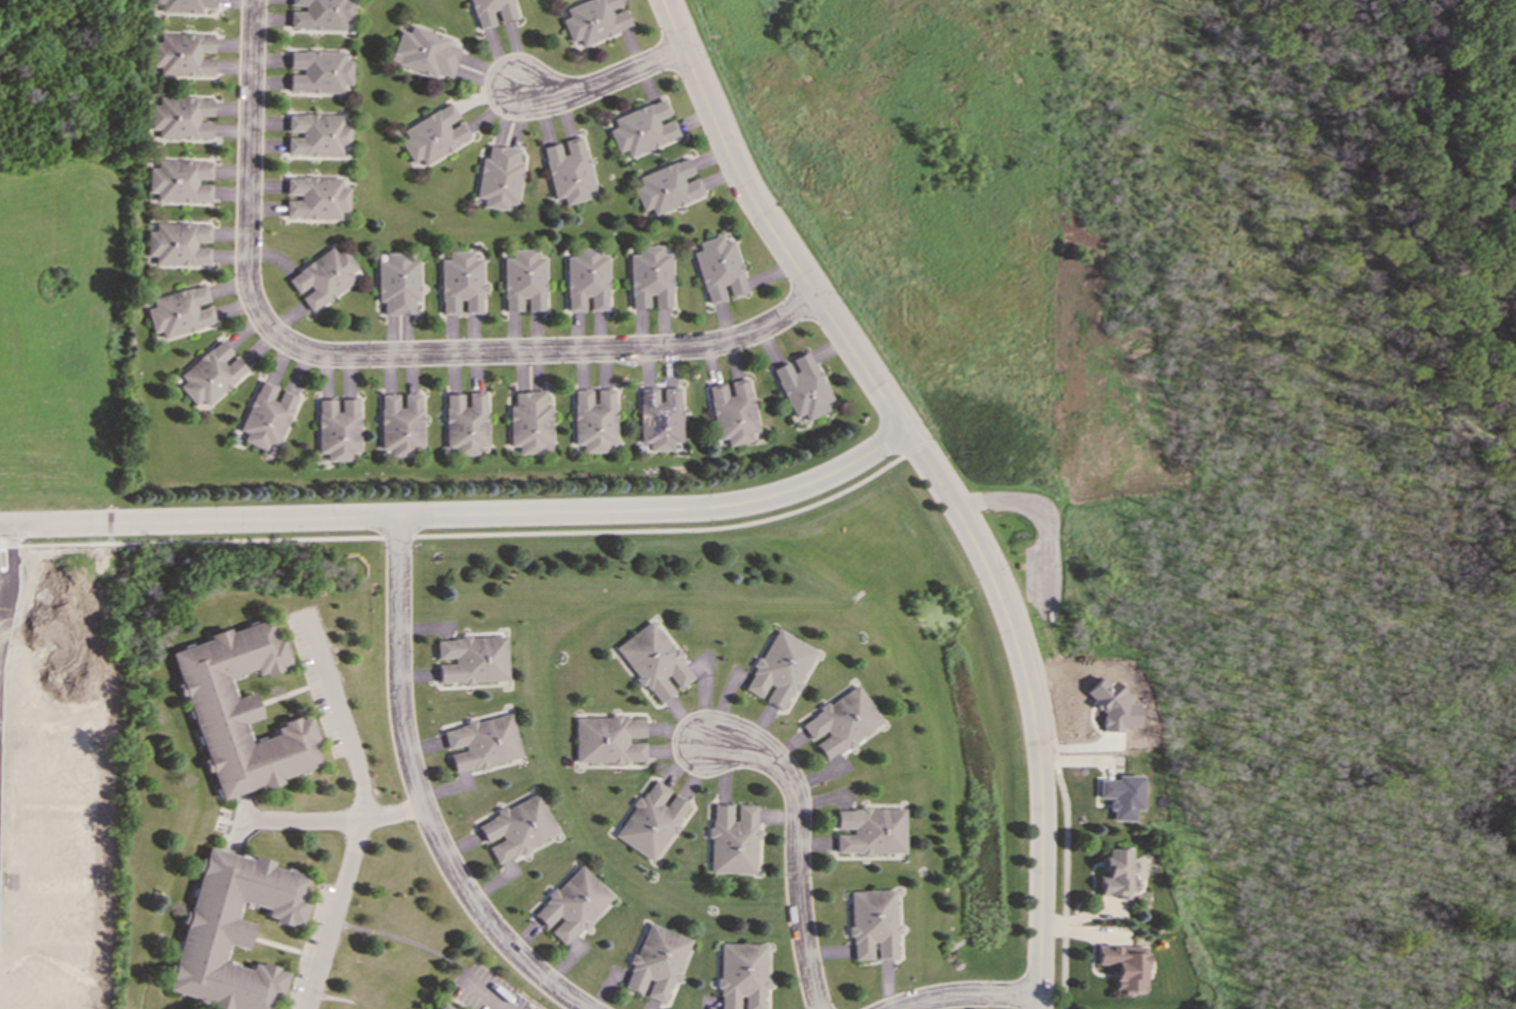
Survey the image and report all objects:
building: (184, 5)
building: (490, 11)
building: (321, 15)
building: (593, 19)
building: (423, 51)
building: (182, 53)
building: (319, 71)
road: (597, 85)
building: (181, 117)
building: (641, 128)
building: (433, 134)
building: (318, 135)
building: (567, 170)
building: (499, 176)
building: (179, 180)
building: (666, 186)
building: (315, 197)
building: (179, 243)
building: (717, 268)
building: (649, 276)
building: (322, 277)
building: (585, 279)
building: (522, 280)
building: (397, 282)
building: (460, 282)
building: (180, 311)
road: (377, 355)
building: (211, 373)
building: (801, 387)
building: (731, 411)
building: (267, 415)
building: (660, 418)
building: (594, 419)
building: (465, 422)
building: (530, 422)
building: (401, 423)
building: (338, 428)
road: (916, 447)
road: (948, 473)
road: (954, 477)
road: (464, 516)
road: (459, 534)
road: (4, 553)
building: (472, 659)
building: (653, 661)
building: (777, 668)
building: (1112, 705)
building: (240, 710)
building: (839, 721)
building: (607, 739)
building: (482, 742)
road: (350, 751)
road: (420, 792)
building: (1120, 795)
road: (311, 816)
building: (650, 820)
building: (516, 826)
building: (869, 830)
road: (794, 837)
building: (731, 839)
building: (570, 904)
road: (335, 912)
building: (871, 923)
building: (232, 929)
road: (408, 940)
building: (655, 962)
building: (1123, 965)
building: (740, 975)
road: (488, 996)
road: (968, 996)
building: (443, 1005)

